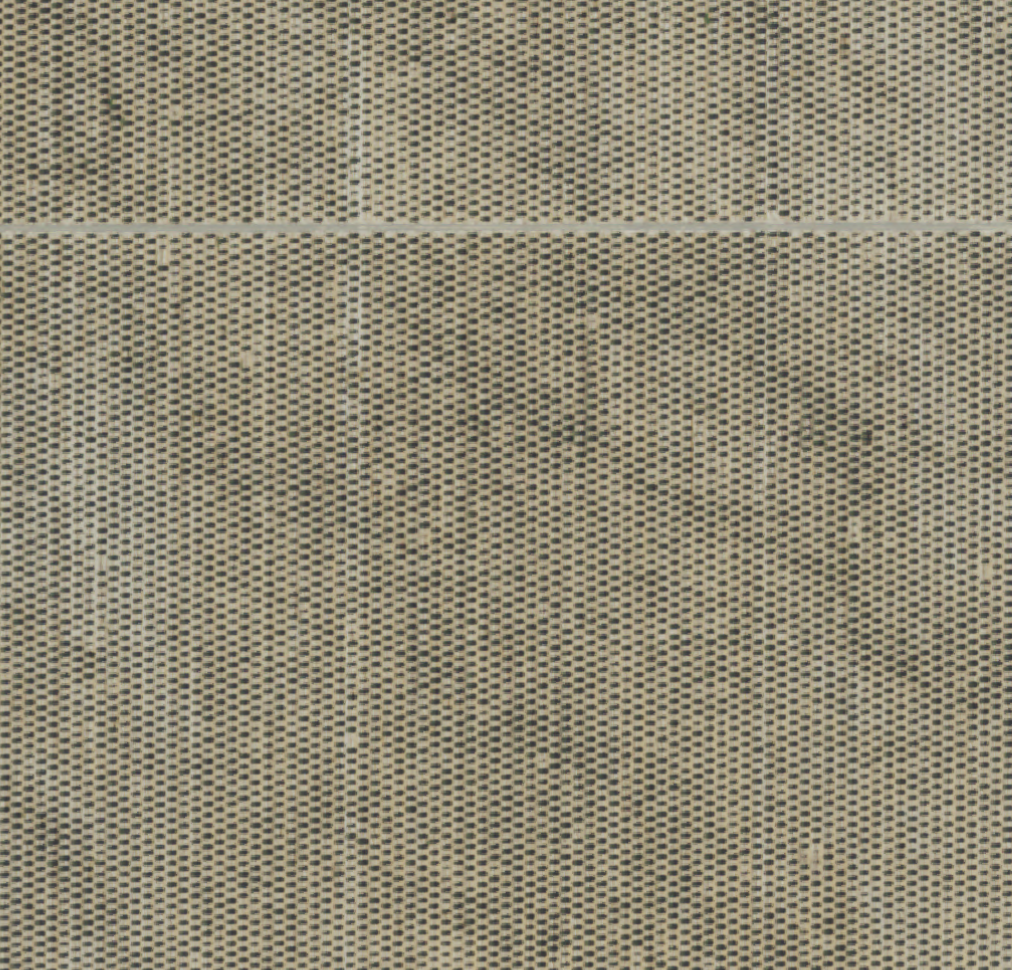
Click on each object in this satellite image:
road: (506, 230)

